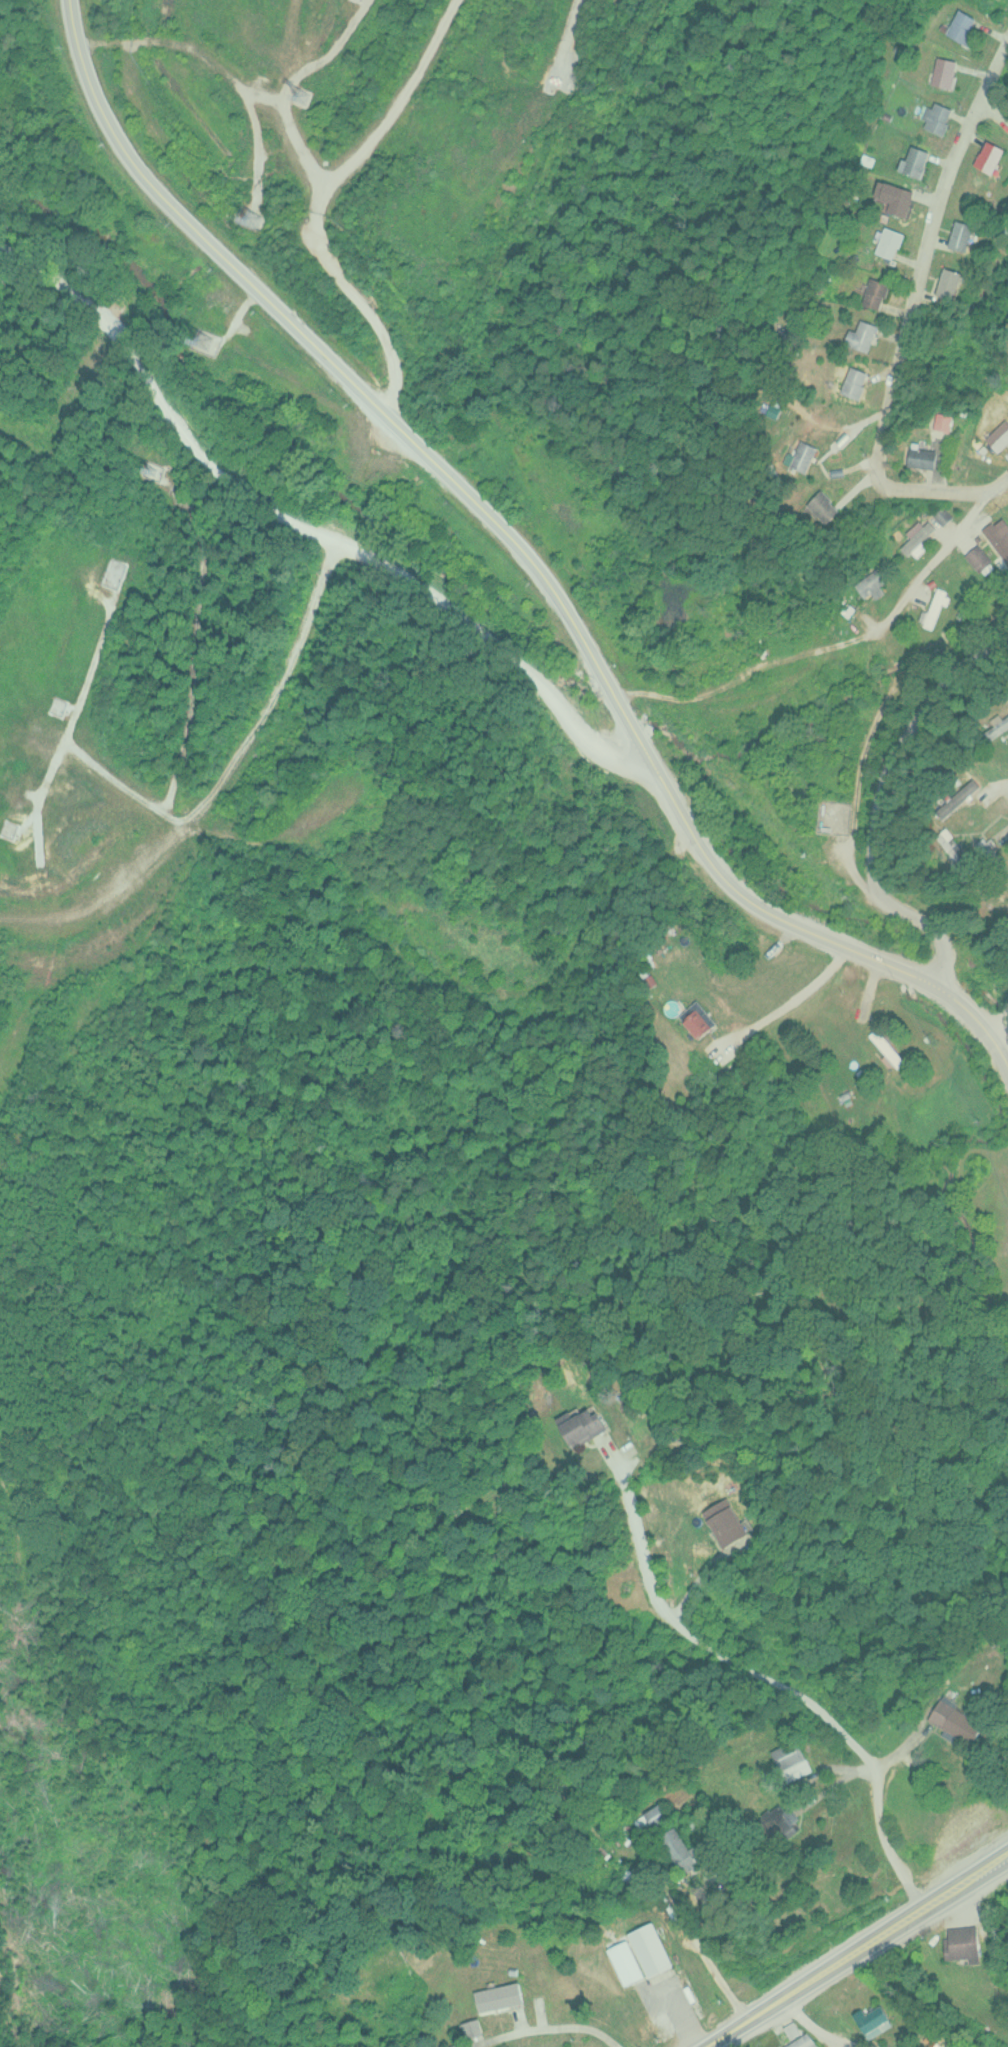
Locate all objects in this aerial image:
building: (969, 24)
building: (952, 71)
road: (995, 106)
building: (946, 116)
building: (998, 155)
building: (924, 159)
building: (905, 197)
building: (971, 235)
building: (900, 238)
building: (960, 281)
airport: (384, 287)
building: (884, 291)
building: (871, 335)
building: (864, 381)
road: (889, 393)
building: (950, 420)
building: (1003, 436)
building: (811, 454)
building: (927, 456)
road: (999, 481)
building: (834, 506)
building: (943, 514)
building: (950, 514)
road: (307, 529)
building: (923, 535)
building: (917, 536)
road: (514, 537)
building: (986, 557)
building: (878, 583)
building: (940, 609)
road: (750, 667)
building: (1001, 728)
building: (966, 798)
road: (883, 804)
road: (563, 964)
building: (706, 1019)
road: (999, 1019)
building: (889, 1048)
building: (896, 1048)
road: (998, 1052)
building: (584, 1425)
building: (729, 1523)
road: (996, 1646)
road: (772, 1686)
building: (962, 1722)
building: (793, 1759)
building: (651, 1818)
building: (679, 1847)
building: (965, 1942)
road: (854, 1952)
building: (642, 1954)
road: (270, 1992)
building: (502, 1996)
building: (873, 2019)
road: (815, 2027)
building: (792, 2029)
building: (804, 2041)
building: (940, 2041)

